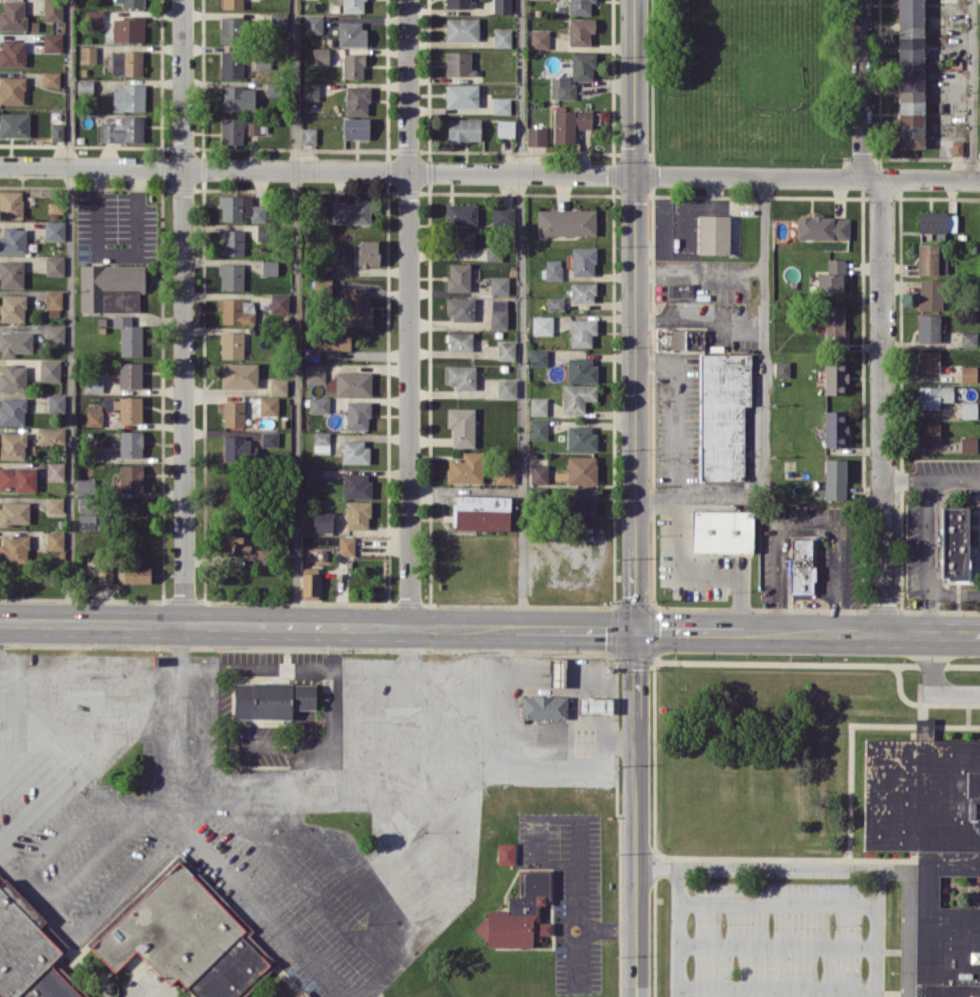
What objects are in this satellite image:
building: (131, 3)
building: (458, 3)
building: (232, 4)
building: (979, 4)
building: (353, 5)
building: (502, 6)
building: (579, 6)
building: (52, 10)
building: (13, 15)
building: (94, 19)
building: (278, 21)
building: (313, 24)
building: (128, 29)
building: (230, 29)
building: (462, 29)
building: (580, 30)
building: (351, 34)
building: (502, 37)
building: (539, 39)
building: (52, 42)
building: (12, 52)
building: (88, 54)
building: (320, 55)
building: (229, 60)
building: (126, 62)
building: (458, 63)
building: (353, 65)
building: (582, 66)
building: (910, 73)
building: (50, 79)
park: (749, 82)
building: (84, 86)
building: (561, 87)
road: (973, 89)
building: (12, 90)
road: (861, 90)
building: (311, 91)
building: (461, 95)
building: (128, 97)
building: (238, 98)
building: (357, 100)
building: (501, 105)
building: (14, 124)
building: (569, 124)
building: (253, 125)
building: (356, 128)
building: (505, 128)
building: (463, 129)
building: (123, 130)
building: (231, 130)
building: (57, 132)
building: (308, 135)
building: (536, 135)
road: (489, 172)
building: (10, 204)
building: (55, 206)
building: (231, 207)
building: (351, 212)
building: (257, 213)
building: (461, 213)
building: (503, 214)
building: (937, 221)
building: (566, 222)
building: (822, 227)
building: (54, 230)
building: (713, 234)
building: (13, 240)
building: (462, 240)
building: (233, 242)
building: (493, 252)
building: (368, 253)
building: (927, 258)
building: (583, 261)
building: (54, 265)
building: (269, 267)
building: (553, 269)
building: (11, 273)
building: (231, 276)
building: (458, 276)
road: (700, 276)
building: (831, 276)
building: (499, 285)
building: (110, 287)
building: (582, 292)
building: (680, 292)
building: (929, 293)
building: (53, 303)
building: (279, 303)
building: (555, 303)
building: (356, 306)
building: (12, 308)
building: (460, 308)
building: (236, 310)
road: (70, 311)
road: (183, 312)
road: (295, 313)
road: (409, 313)
building: (498, 313)
road: (522, 313)
road: (699, 322)
building: (834, 323)
building: (542, 324)
building: (928, 328)
building: (582, 332)
building: (54, 333)
building: (128, 335)
building: (968, 338)
building: (687, 339)
building: (336, 341)
building: (459, 341)
building: (15, 343)
building: (231, 345)
building: (506, 350)
building: (312, 353)
building: (537, 358)
building: (928, 361)
building: (581, 369)
building: (781, 369)
building: (49, 370)
building: (316, 372)
building: (968, 373)
building: (129, 375)
building: (239, 375)
building: (461, 376)
building: (835, 376)
building: (13, 378)
building: (353, 383)
building: (93, 384)
building: (278, 386)
building: (506, 388)
building: (933, 395)
building: (577, 397)
road: (764, 398)
building: (55, 403)
road: (881, 403)
building: (318, 404)
building: (268, 405)
building: (538, 406)
building: (125, 408)
building: (968, 409)
building: (12, 411)
road: (678, 411)
building: (231, 412)
building: (722, 414)
building: (94, 415)
building: (357, 415)
building: (461, 426)
building: (835, 428)
building: (538, 429)
building: (928, 432)
building: (50, 435)
building: (581, 437)
building: (321, 442)
building: (130, 443)
building: (968, 444)
building: (12, 445)
building: (236, 447)
building: (93, 449)
building: (354, 451)
building: (465, 468)
building: (582, 469)
building: (55, 470)
building: (505, 475)
building: (538, 475)
building: (311, 476)
building: (17, 478)
building: (130, 478)
building: (834, 478)
road: (906, 478)
road: (955, 479)
building: (356, 485)
building: (85, 487)
road: (635, 498)
building: (584, 501)
building: (54, 504)
building: (86, 504)
building: (14, 512)
building: (481, 512)
building: (358, 514)
road: (806, 520)
building: (88, 521)
building: (322, 521)
building: (721, 530)
building: (55, 540)
building: (954, 542)
building: (233, 543)
building: (346, 545)
building: (14, 548)
road: (929, 555)
building: (263, 557)
building: (800, 566)
road: (680, 572)
building: (104, 573)
building: (134, 573)
building: (310, 582)
road: (954, 594)
road: (489, 628)
traffic signals: (636, 629)
road: (277, 667)
building: (557, 672)
road: (930, 686)
road: (488, 687)
road: (7, 689)
road: (91, 699)
building: (271, 699)
building: (594, 704)
building: (543, 706)
building: (923, 724)
road: (462, 746)
road: (34, 747)
road: (98, 784)
road: (334, 785)
road: (201, 845)
building: (932, 849)
road: (28, 868)
road: (299, 868)
road: (834, 868)
road: (576, 901)
road: (58, 913)
building: (518, 914)
road: (606, 928)
road: (672, 931)
road: (874, 933)
building: (185, 936)
building: (27, 951)
building: (302, 994)

